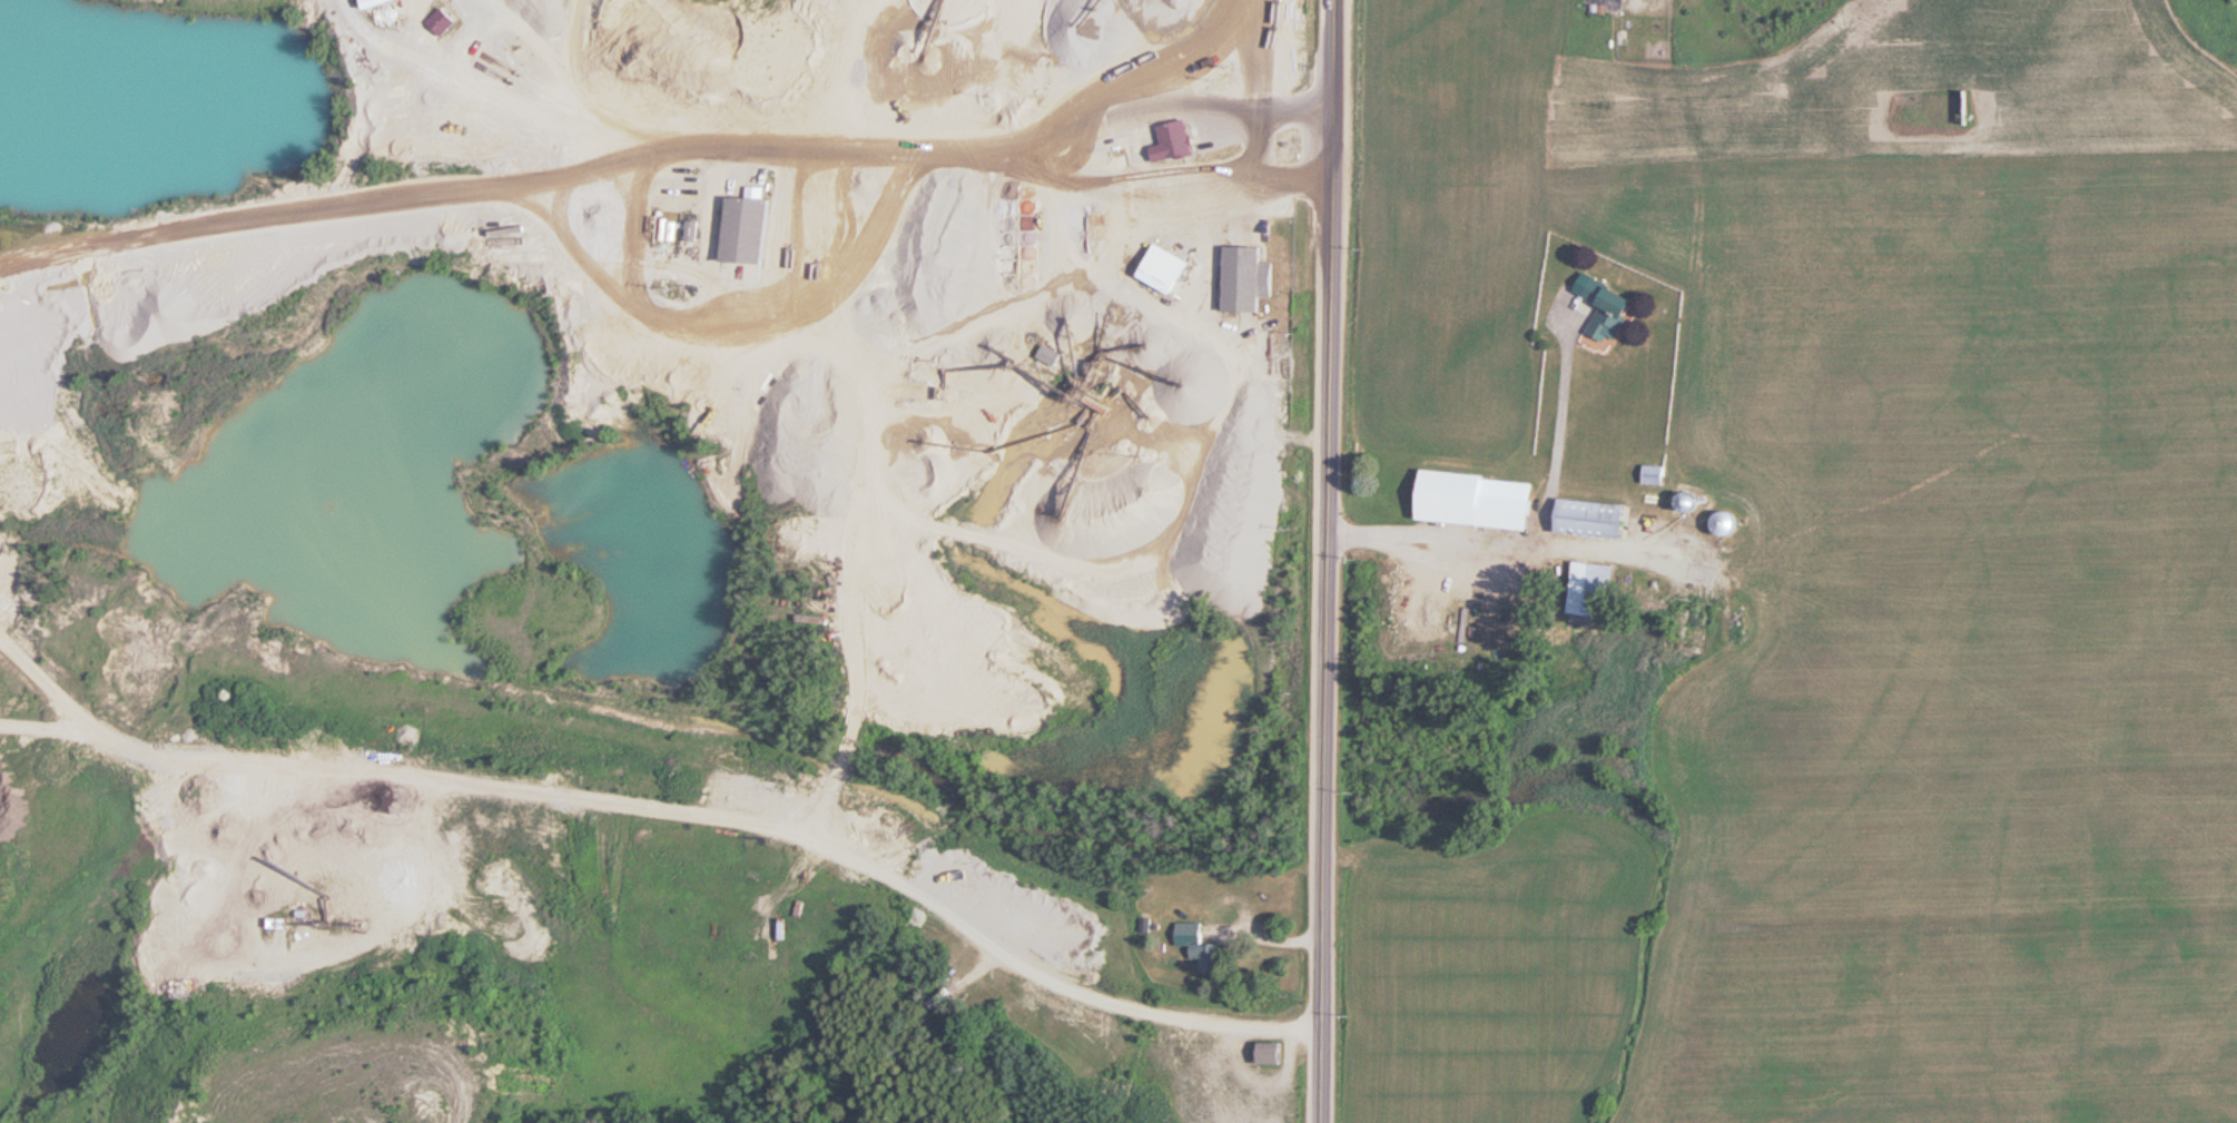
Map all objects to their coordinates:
building: (375, 3)
building: (444, 22)
building: (1182, 140)
building: (748, 229)
building: (1172, 269)
building: (1252, 279)
building: (1613, 313)
quarry: (674, 387)
building: (1658, 474)
building: (1480, 500)
building: (1597, 520)
building: (1731, 523)
road: (1329, 561)
building: (1595, 597)
building: (1201, 945)
building: (1275, 1054)

